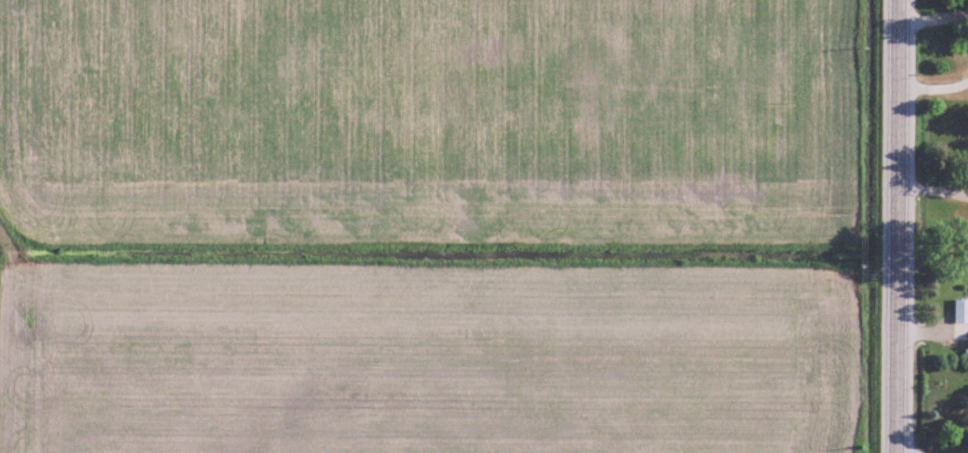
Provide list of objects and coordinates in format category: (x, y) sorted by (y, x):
road: (932, 188)
road: (896, 226)
building: (961, 312)

